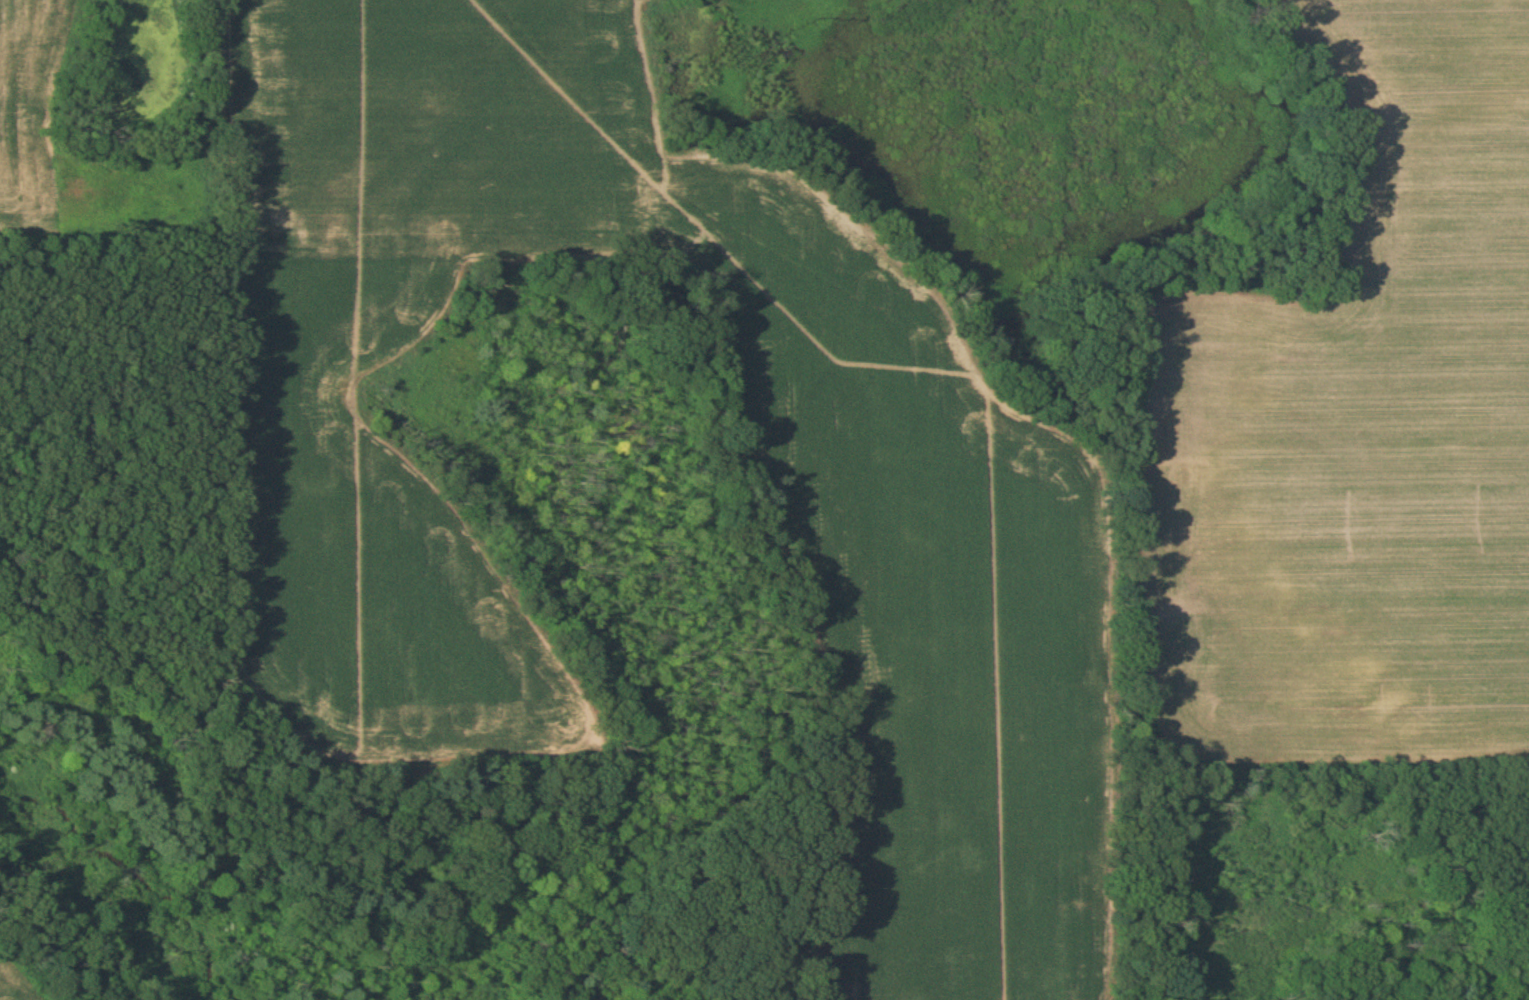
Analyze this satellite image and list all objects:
road: (1446, 230)

